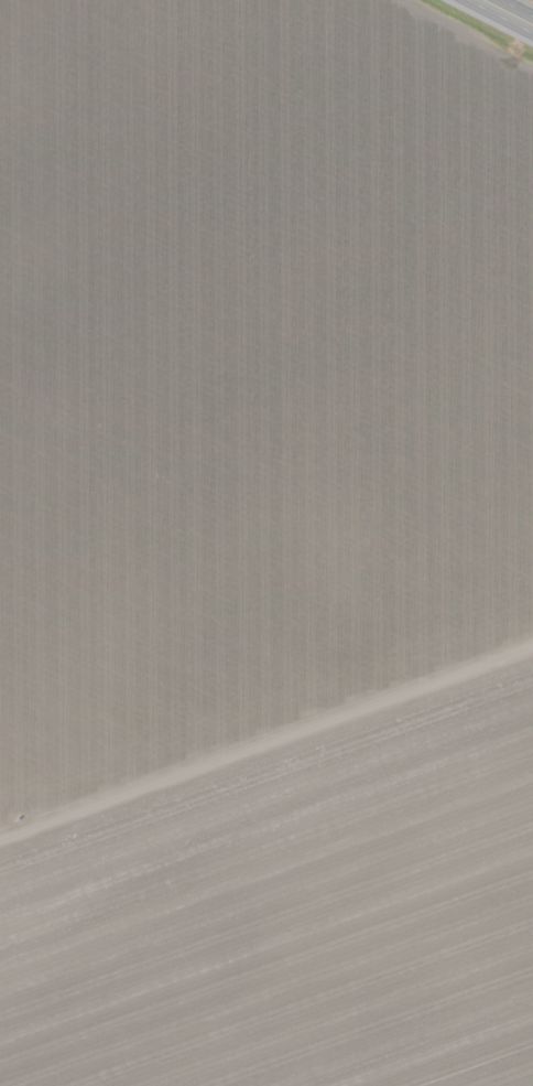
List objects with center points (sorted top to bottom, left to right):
road: (503, 14)
road: (266, 744)

